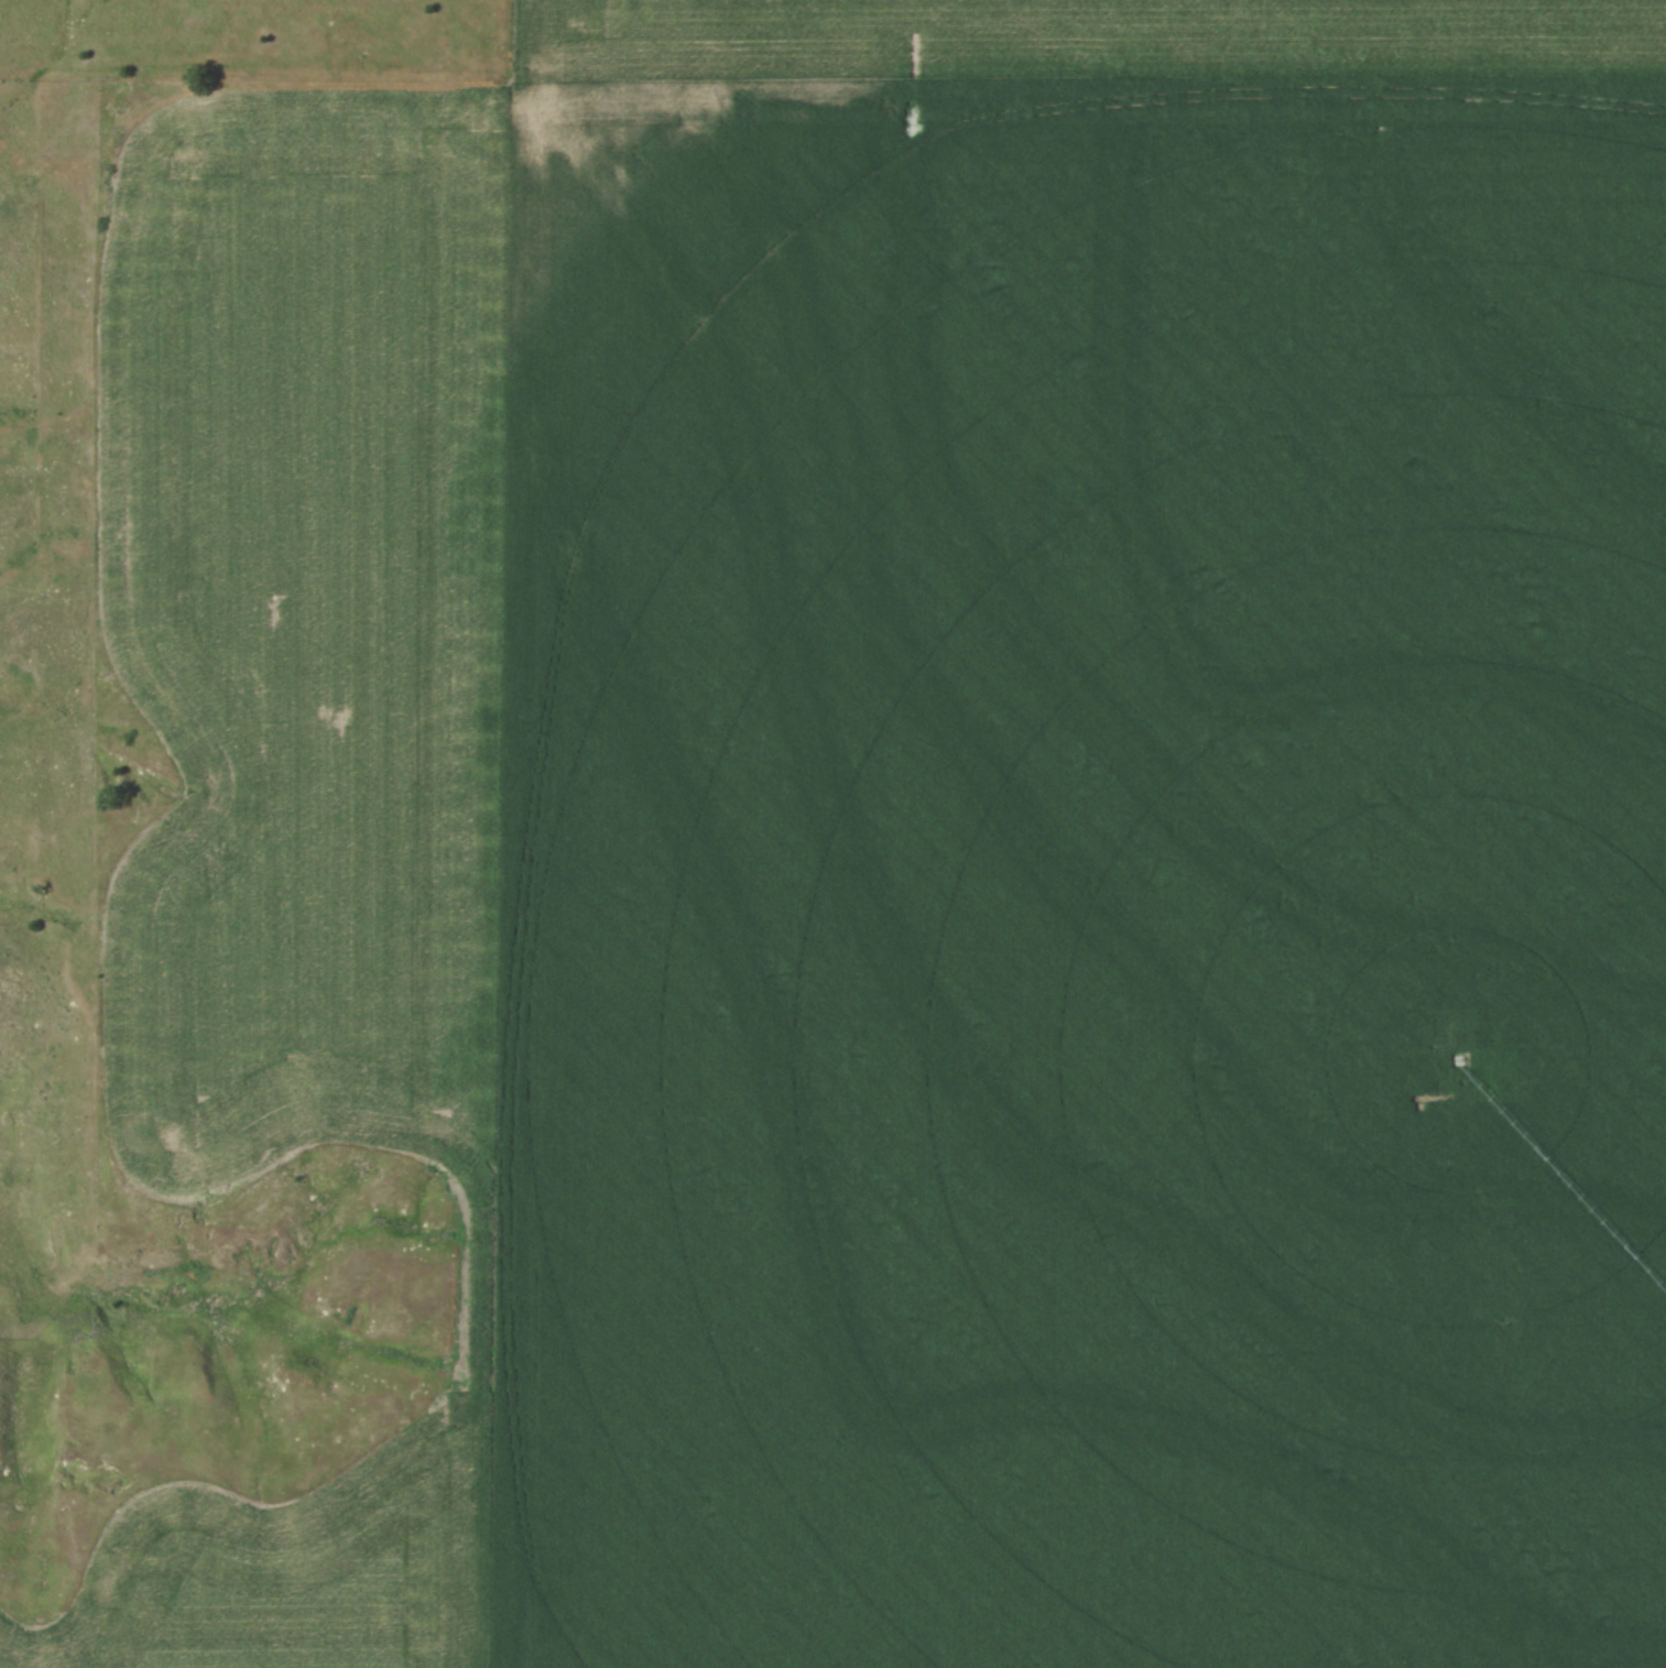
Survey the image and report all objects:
crop: (1087, 36)
crop: (315, 623)
crop: (305, 1571)

